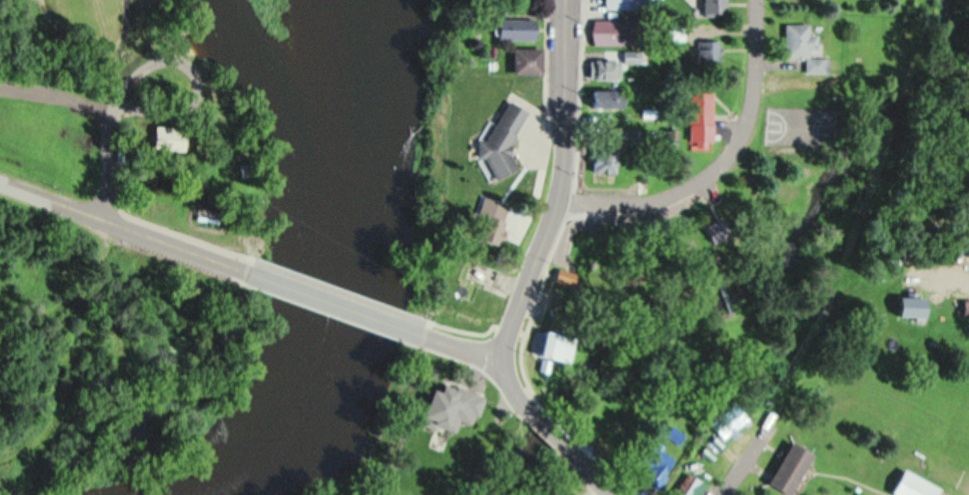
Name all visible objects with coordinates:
building: (631, 4)
building: (713, 7)
building: (514, 29)
building: (675, 31)
building: (611, 32)
building: (796, 40)
building: (706, 51)
building: (633, 56)
building: (525, 61)
building: (815, 65)
building: (601, 70)
road: (199, 82)
road: (59, 95)
building: (605, 99)
river: (282, 112)
building: (699, 119)
park: (803, 125)
building: (667, 136)
building: (169, 138)
building: (499, 141)
park: (145, 143)
building: (133, 159)
building: (600, 159)
road: (115, 160)
road: (718, 163)
building: (248, 166)
road: (561, 181)
road: (125, 221)
building: (722, 221)
building: (489, 225)
river: (328, 266)
building: (567, 274)
road: (967, 279)
road: (337, 298)
building: (907, 307)
building: (965, 309)
building: (559, 345)
road: (523, 401)
building: (437, 410)
building: (477, 417)
building: (728, 421)
building: (675, 433)
building: (655, 460)
road: (746, 460)
building: (787, 468)
building: (911, 485)
building: (690, 487)

